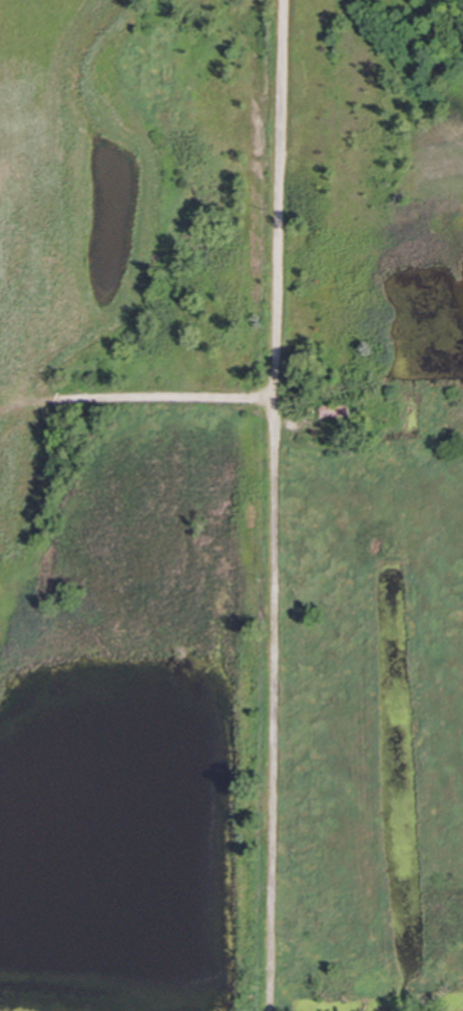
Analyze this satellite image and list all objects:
road: (277, 190)
road: (272, 696)

